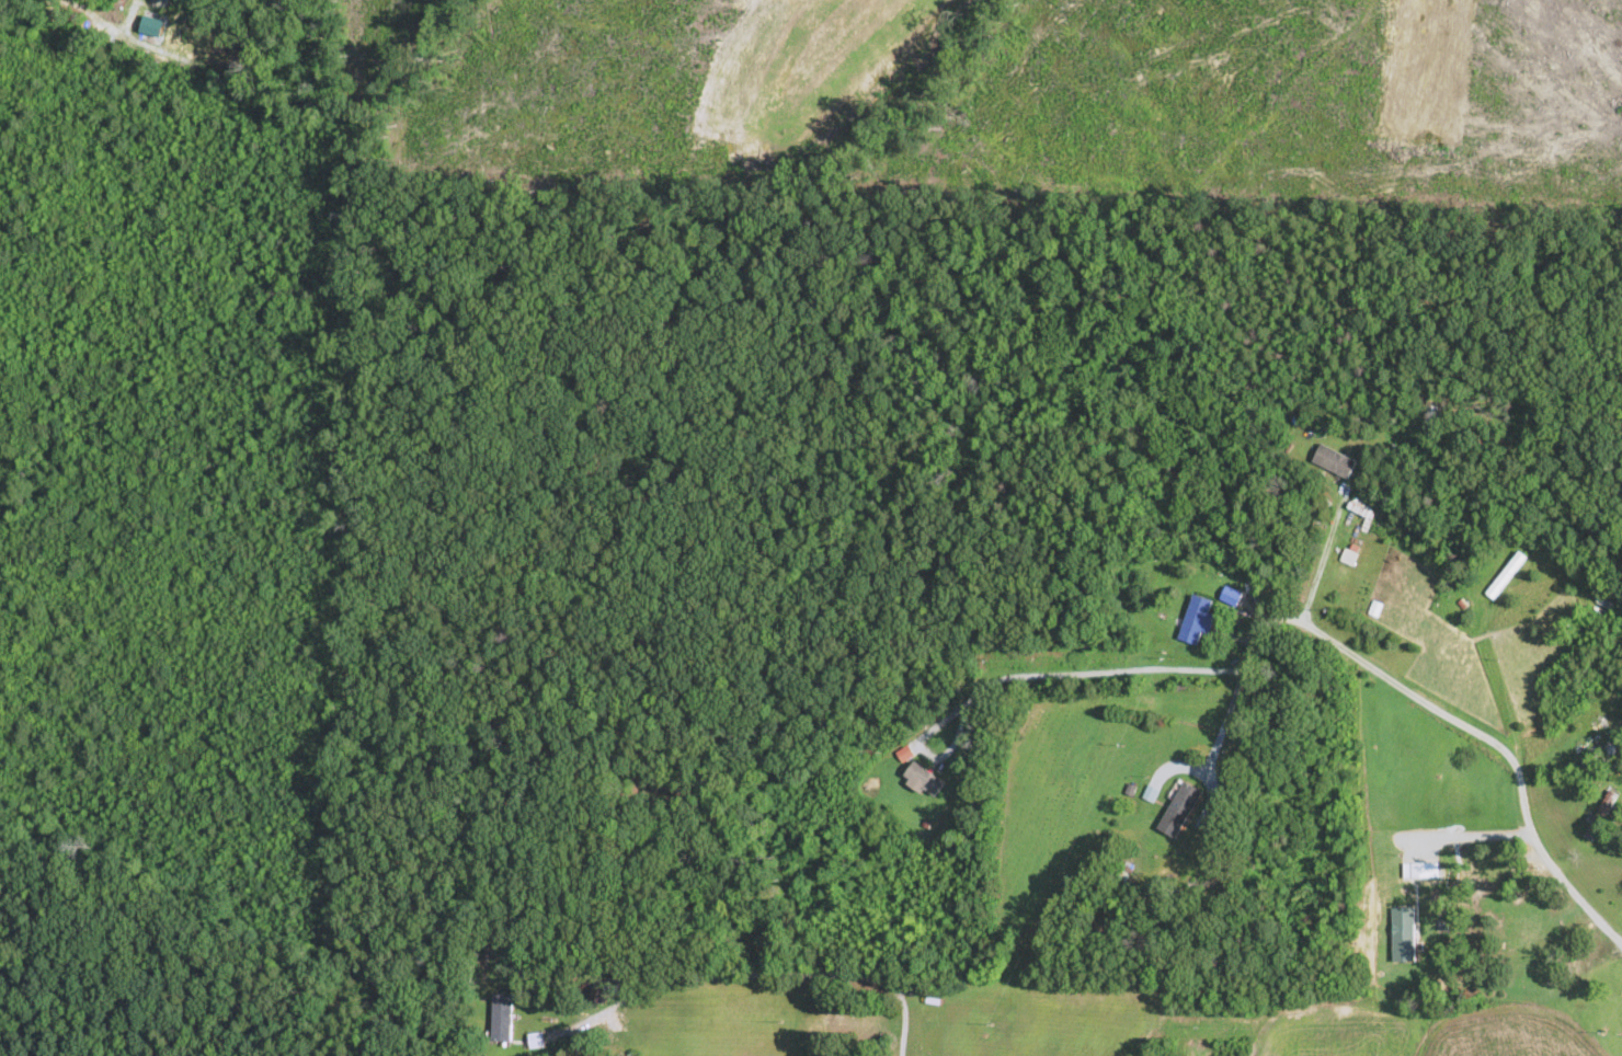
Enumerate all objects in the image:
building: (1335, 461)
road: (1324, 560)
building: (1507, 575)
building: (1198, 620)
road: (1355, 653)
road: (959, 713)
road: (1229, 715)
building: (923, 779)
building: (1179, 810)
building: (1600, 815)
road: (1460, 834)
building: (1418, 870)
building: (1404, 934)
building: (1523, 934)
road: (757, 973)
building: (502, 1018)

